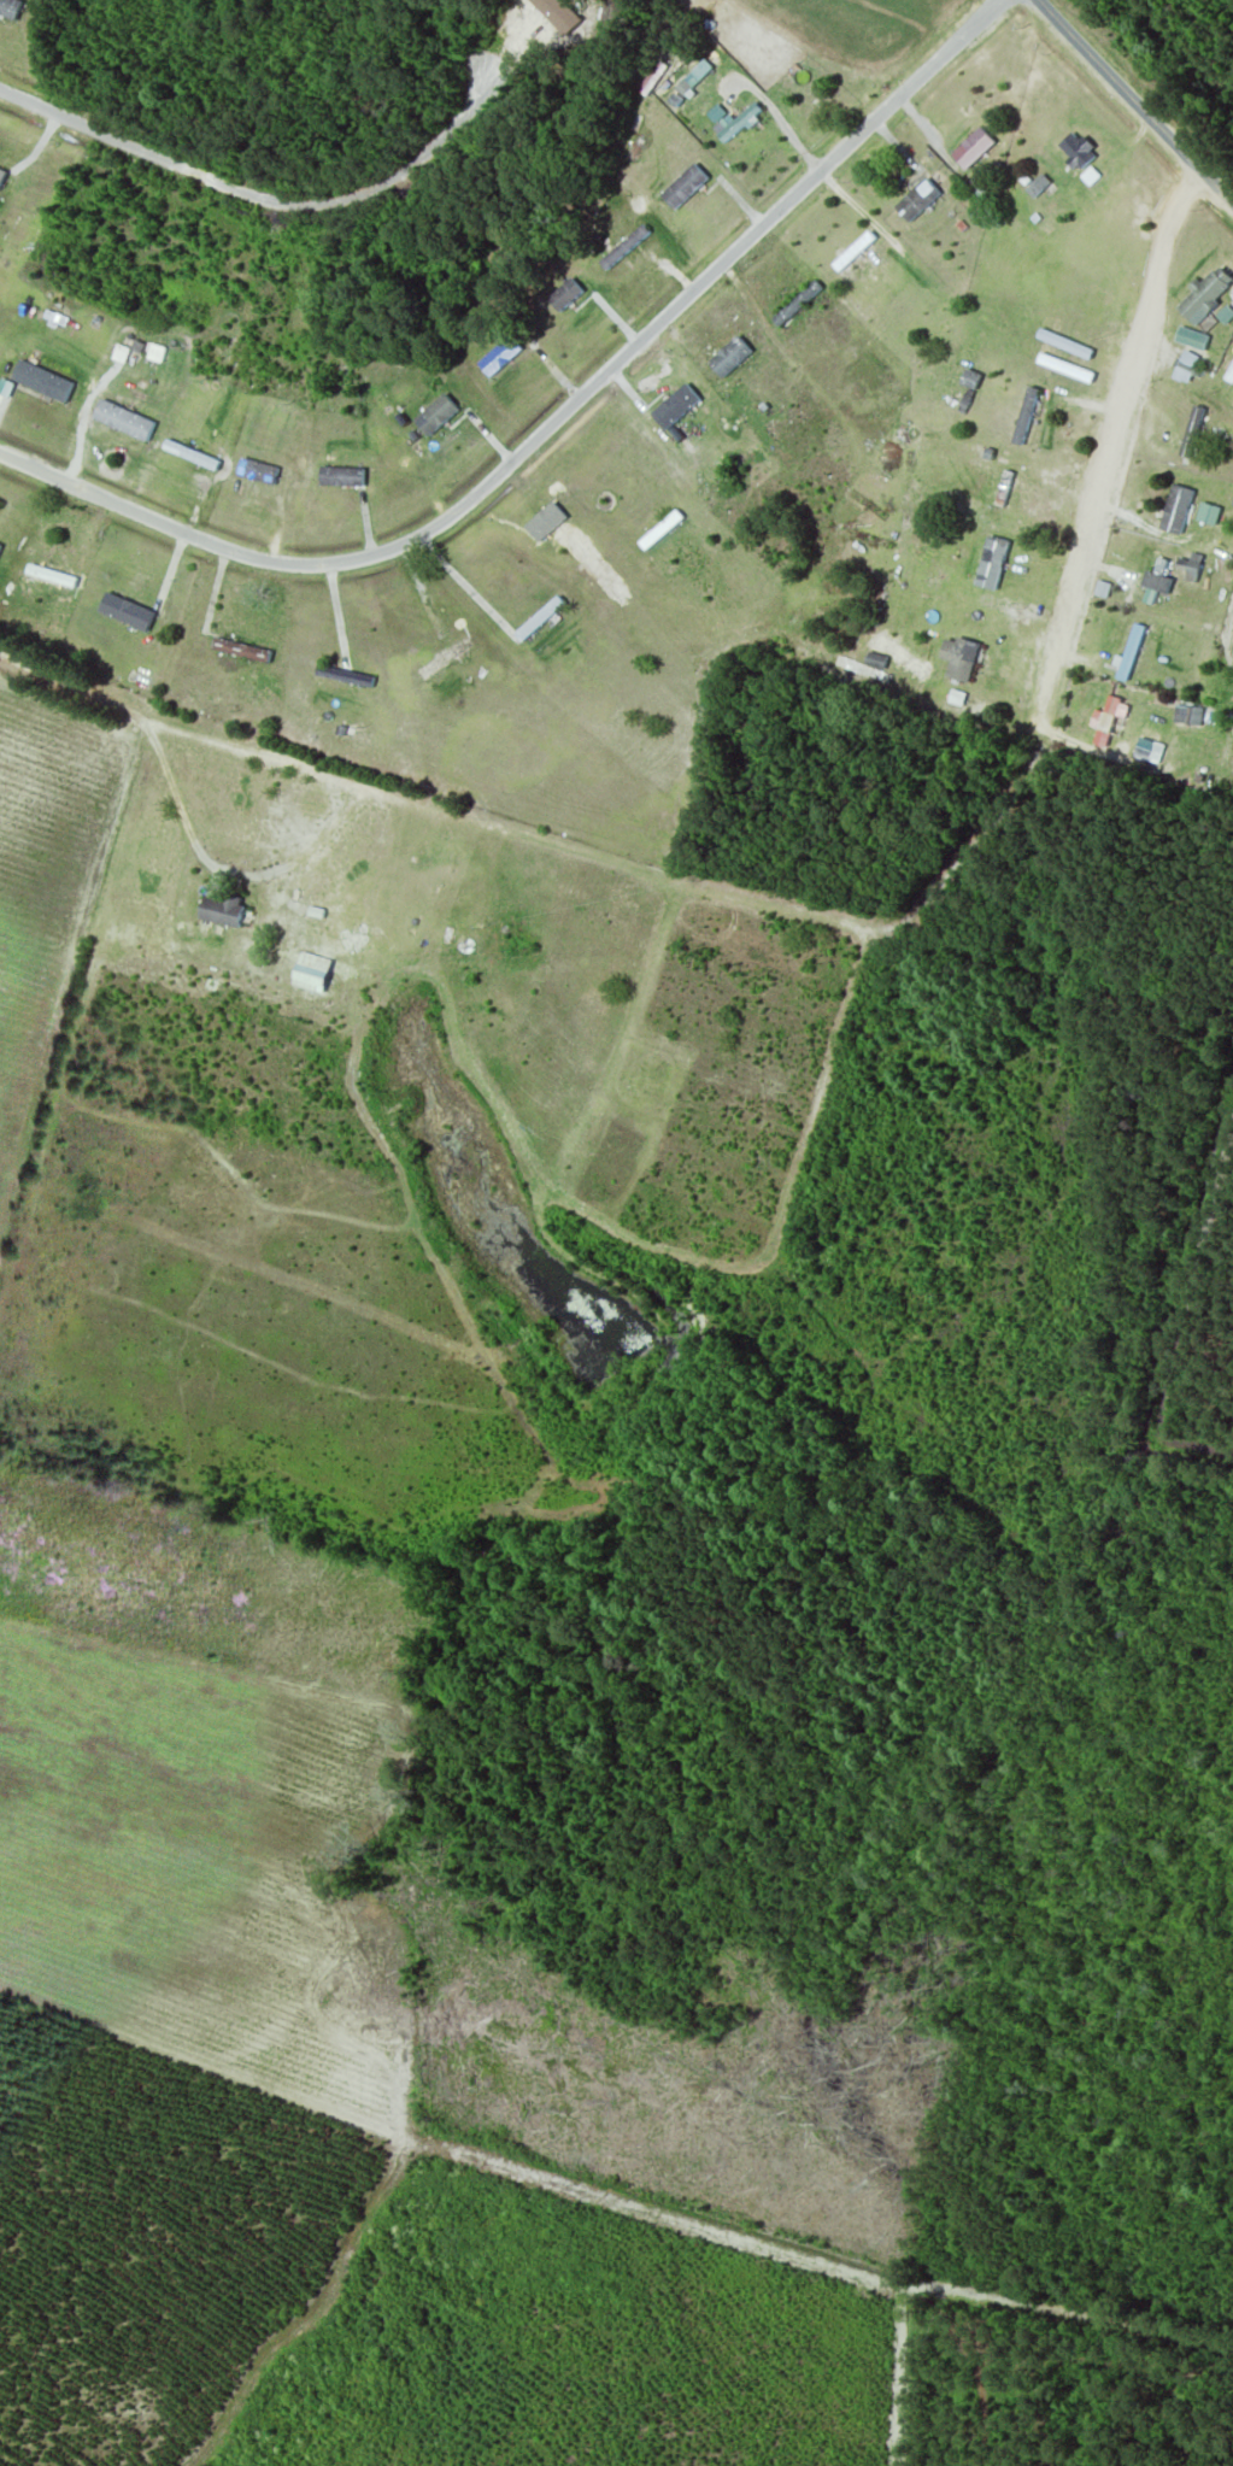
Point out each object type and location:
building: (8, 10)
road: (1134, 102)
building: (740, 127)
building: (971, 149)
building: (1074, 151)
building: (630, 153)
building: (0, 175)
building: (1037, 187)
building: (682, 188)
road: (263, 200)
building: (917, 201)
building: (624, 249)
building: (563, 295)
building: (1204, 295)
building: (797, 305)
building: (499, 358)
building: (728, 358)
building: (1184, 368)
building: (970, 382)
building: (40, 383)
building: (674, 407)
road: (1115, 409)
building: (434, 416)
building: (1026, 418)
building: (121, 422)
road: (551, 425)
building: (1193, 431)
building: (1219, 445)
building: (262, 470)
building: (340, 478)
building: (1003, 492)
building: (1173, 511)
building: (660, 532)
building: (969, 571)
building: (1191, 571)
building: (1155, 580)
building: (124, 612)
building: (239, 651)
building: (1128, 656)
building: (957, 659)
building: (1186, 717)
building: (1105, 723)
building: (1144, 745)
building: (217, 912)
building: (306, 973)

